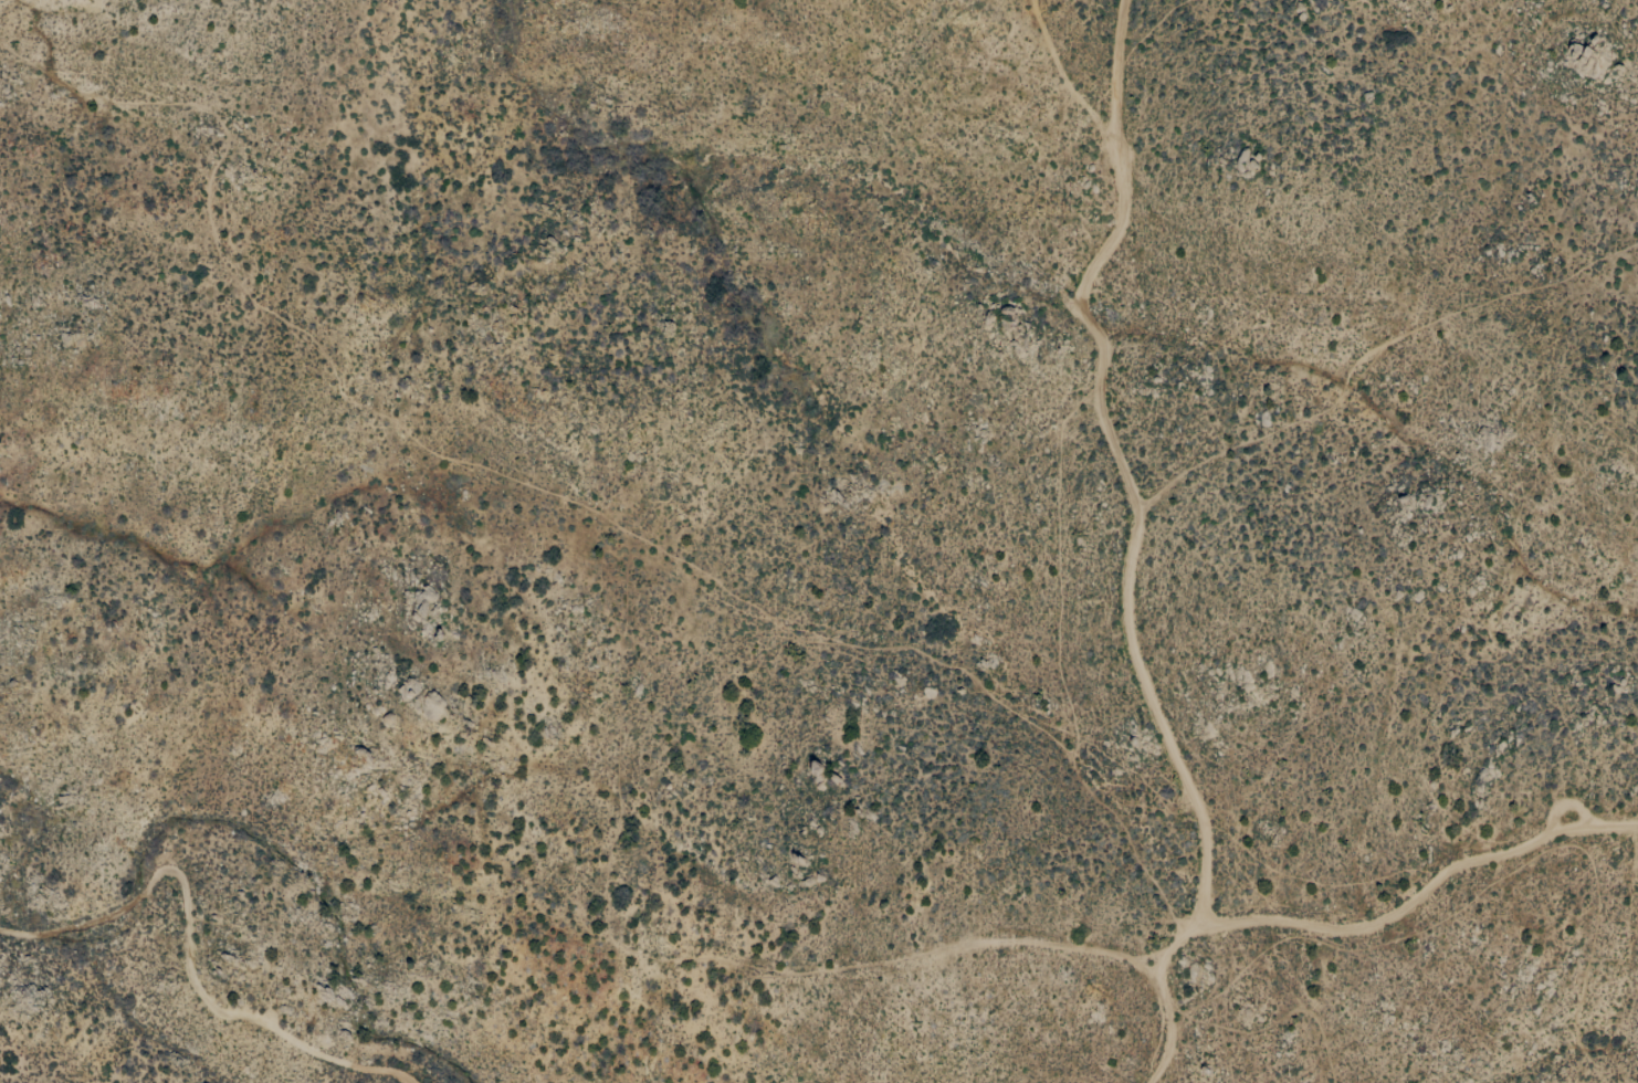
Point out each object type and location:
road: (1413, 859)
road: (222, 925)
road: (1195, 1008)

